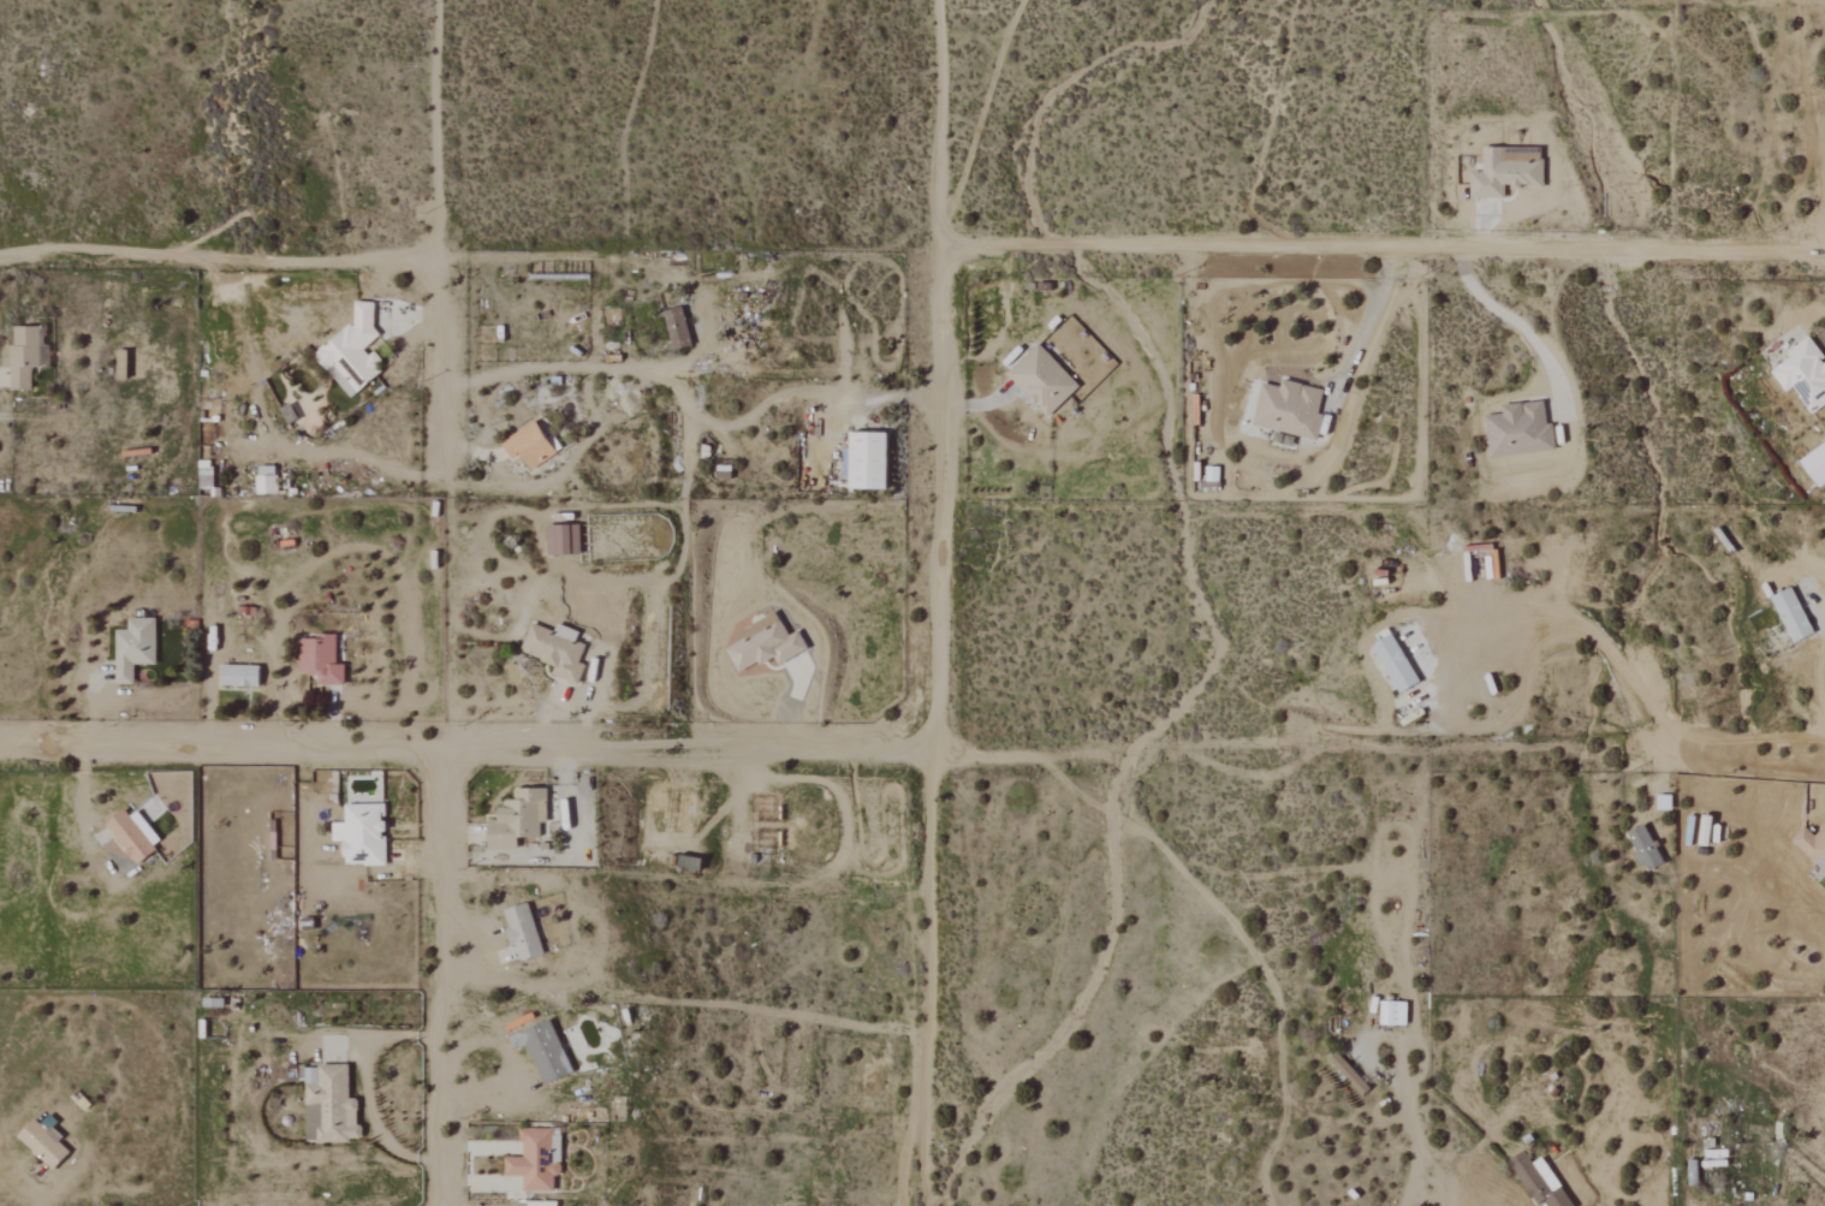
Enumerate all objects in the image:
building: (1508, 173)
road: (1484, 227)
road: (438, 238)
road: (1384, 249)
road: (219, 266)
road: (708, 316)
road: (1378, 317)
road: (1515, 325)
building: (679, 329)
building: (353, 352)
building: (25, 356)
building: (1805, 374)
building: (1045, 380)
road: (786, 394)
building: (1291, 410)
building: (1521, 430)
building: (533, 445)
building: (870, 462)
building: (1818, 465)
building: (268, 480)
building: (565, 540)
road: (932, 602)
building: (1795, 616)
road: (1595, 635)
building: (767, 644)
building: (136, 648)
building: (557, 652)
building: (322, 660)
building: (1398, 664)
building: (242, 676)
road: (1731, 738)
road: (1250, 741)
road: (463, 754)
building: (519, 818)
building: (364, 834)
building: (131, 836)
building: (1813, 844)
building: (1647, 848)
building: (524, 932)
road: (435, 979)
road: (682, 1000)
building: (1396, 1012)
building: (546, 1051)
building: (329, 1104)
road: (1410, 1127)
building: (44, 1143)
building: (539, 1159)
building: (1542, 1182)
road: (1491, 1201)

